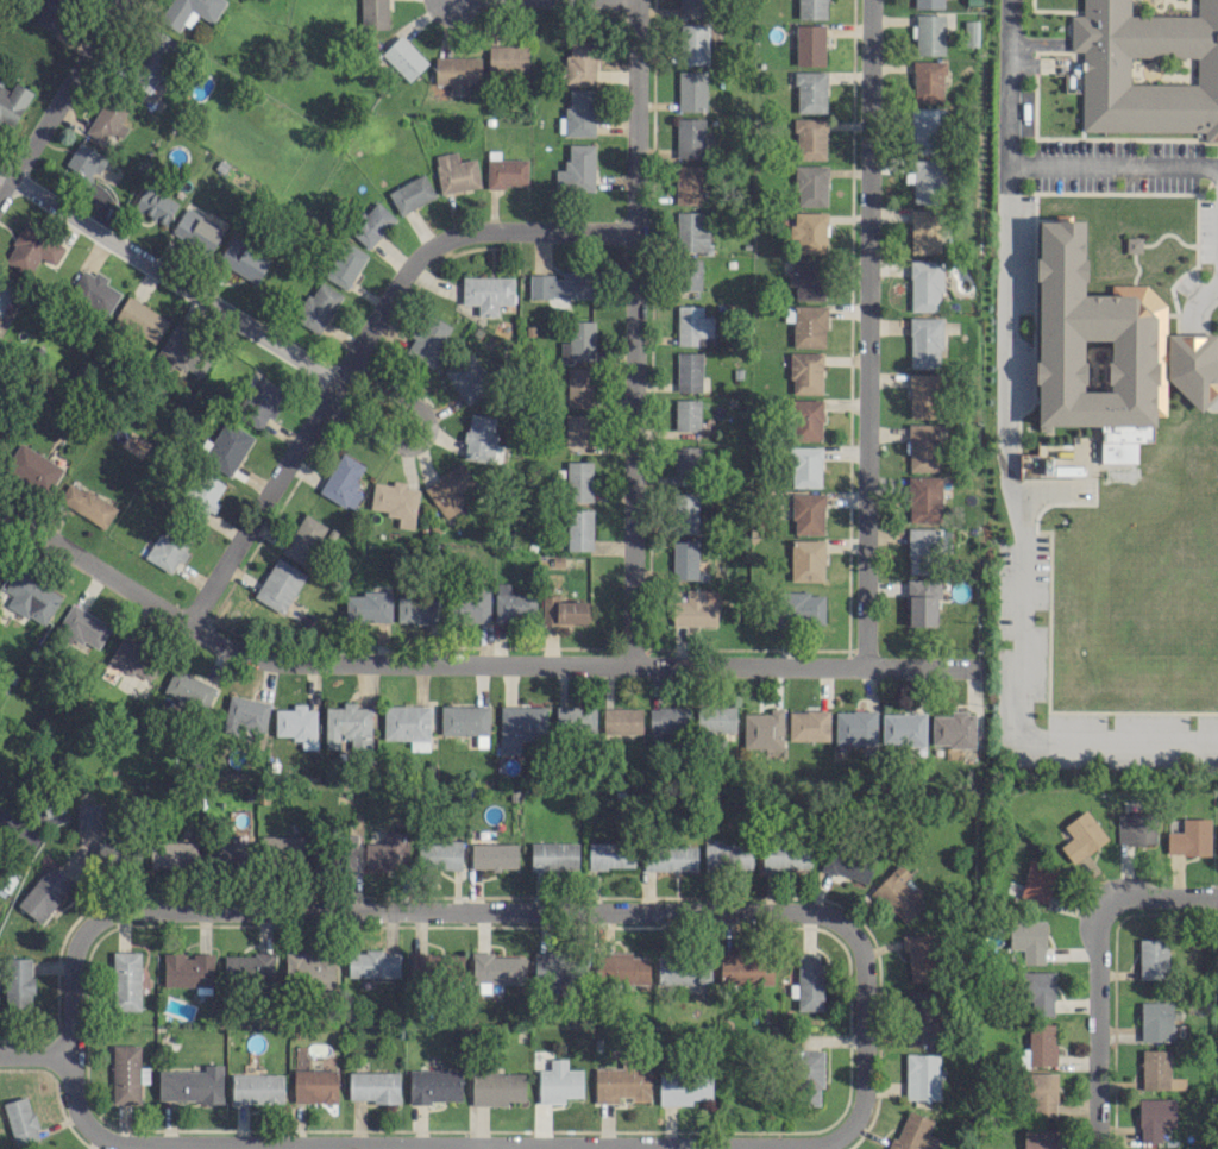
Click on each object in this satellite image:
building: (928, 4)
building: (692, 7)
building: (811, 8)
building: (189, 11)
building: (50, 12)
building: (373, 13)
building: (969, 32)
building: (928, 33)
building: (695, 43)
building: (809, 44)
building: (403, 57)
building: (507, 57)
building: (153, 62)
building: (580, 62)
building: (1148, 65)
building: (457, 73)
building: (928, 81)
building: (691, 89)
building: (810, 92)
road: (59, 95)
building: (12, 102)
building: (578, 113)
building: (107, 120)
building: (925, 126)
building: (689, 137)
building: (810, 138)
building: (84, 159)
road: (1113, 161)
building: (576, 168)
building: (506, 171)
building: (456, 172)
building: (927, 180)
building: (688, 184)
building: (809, 184)
building: (412, 193)
building: (155, 205)
building: (371, 224)
building: (195, 230)
building: (808, 230)
building: (691, 231)
building: (924, 231)
road: (446, 238)
building: (1132, 244)
building: (31, 249)
building: (243, 258)
building: (345, 264)
building: (689, 274)
road: (167, 276)
building: (806, 277)
building: (561, 284)
building: (925, 284)
building: (94, 291)
building: (486, 293)
building: (5, 294)
building: (316, 307)
building: (140, 319)
building: (806, 325)
building: (693, 326)
road: (630, 331)
road: (867, 333)
road: (1192, 339)
building: (428, 340)
building: (578, 340)
building: (1090, 340)
building: (923, 341)
building: (184, 352)
building: (1193, 365)
building: (688, 370)
building: (805, 372)
building: (466, 378)
building: (578, 387)
building: (923, 395)
building: (260, 401)
building: (686, 414)
building: (806, 419)
building: (577, 431)
road: (423, 437)
building: (479, 437)
building: (922, 446)
building: (225, 447)
building: (686, 460)
building: (1051, 462)
road: (1009, 464)
building: (804, 465)
building: (32, 466)
building: (343, 481)
building: (578, 481)
building: (448, 489)
building: (206, 491)
building: (923, 498)
building: (395, 501)
building: (87, 503)
road: (259, 504)
building: (684, 511)
building: (806, 513)
building: (579, 529)
building: (303, 539)
building: (168, 548)
building: (921, 550)
building: (0, 554)
building: (684, 558)
building: (806, 559)
building: (278, 584)
building: (31, 597)
building: (922, 602)
building: (513, 603)
building: (369, 605)
building: (470, 605)
building: (416, 608)
building: (696, 608)
building: (801, 608)
building: (563, 609)
building: (82, 627)
building: (134, 658)
road: (467, 663)
building: (188, 689)
building: (245, 714)
building: (668, 718)
building: (715, 718)
building: (575, 720)
building: (622, 720)
building: (296, 723)
building: (347, 724)
building: (407, 724)
building: (808, 724)
building: (520, 726)
building: (854, 726)
building: (762, 728)
building: (903, 728)
building: (953, 729)
building: (88, 815)
building: (1135, 827)
building: (1081, 835)
building: (1189, 837)
building: (1217, 839)
building: (281, 846)
building: (117, 850)
building: (388, 850)
building: (174, 852)
building: (231, 852)
building: (345, 852)
building: (439, 854)
building: (553, 854)
building: (610, 854)
building: (494, 855)
building: (670, 856)
building: (727, 856)
building: (784, 856)
building: (848, 862)
building: (1037, 879)
building: (44, 892)
building: (897, 894)
road: (1092, 894)
road: (1160, 896)
road: (396, 912)
building: (1028, 938)
building: (918, 955)
building: (1153, 958)
building: (372, 963)
building: (433, 966)
building: (247, 967)
building: (552, 967)
building: (622, 967)
building: (308, 968)
building: (496, 968)
building: (746, 968)
building: (187, 969)
building: (683, 969)
building: (126, 980)
building: (808, 981)
building: (18, 982)
building: (1040, 992)
building: (921, 1017)
building: (1155, 1021)
road: (1097, 1028)
building: (1038, 1046)
building: (1157, 1070)
building: (127, 1073)
building: (806, 1075)
building: (922, 1075)
building: (558, 1081)
building: (190, 1084)
building: (621, 1084)
building: (314, 1085)
building: (434, 1085)
building: (373, 1086)
building: (257, 1087)
building: (496, 1087)
building: (683, 1088)
building: (1042, 1092)
building: (1154, 1117)
building: (20, 1120)
building: (912, 1132)
building: (1038, 1138)
road: (500, 1145)
road: (485, 1148)

